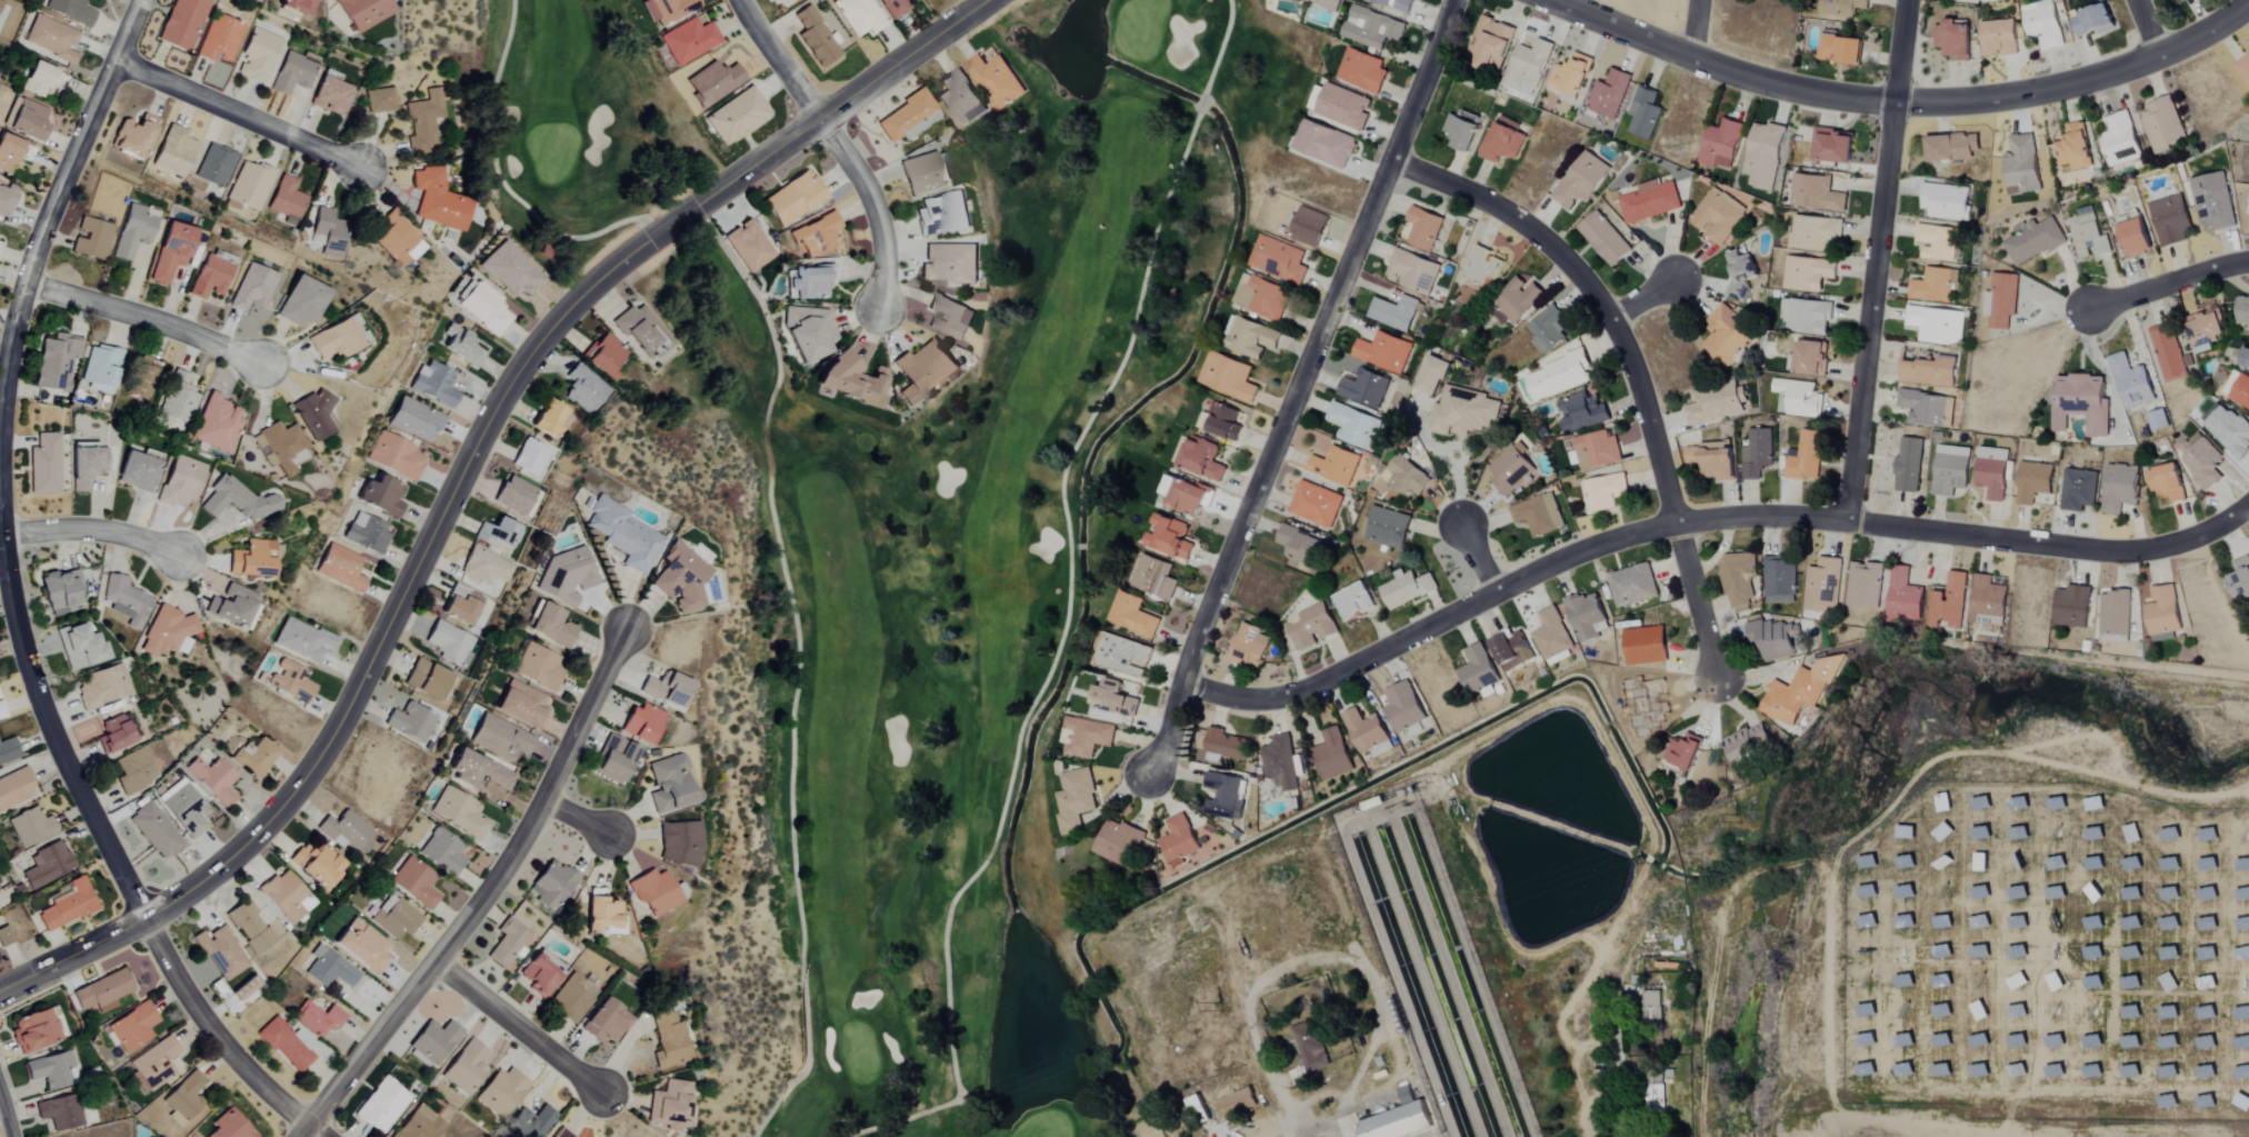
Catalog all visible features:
building: (1992, 0)
building: (0, 2)
building: (1326, 3)
building: (1396, 4)
building: (298, 7)
building: (1841, 7)
building: (892, 8)
building: (667, 10)
building: (70, 11)
building: (362, 12)
building: (858, 17)
building: (2092, 21)
building: (181, 23)
building: (2042, 24)
building: (1371, 28)
road: (1695, 29)
road: (2147, 30)
building: (816, 38)
building: (50, 39)
building: (1997, 39)
building: (218, 40)
building: (688, 41)
building: (1952, 41)
building: (1490, 42)
building: (1840, 50)
road: (1901, 51)
building: (258, 57)
building: (1531, 63)
building: (2243, 69)
building: (1361, 71)
building: (293, 72)
building: (1570, 76)
building: (41, 80)
building: (994, 81)
building: (712, 83)
building: (1608, 94)
building: (330, 97)
building: (379, 100)
building: (959, 100)
road: (1901, 101)
building: (1342, 108)
building: (1643, 113)
road: (241, 114)
building: (737, 117)
building: (908, 119)
building: (27, 121)
building: (423, 123)
building: (2162, 124)
building: (1460, 133)
building: (133, 137)
building: (2119, 140)
building: (1502, 141)
road: (841, 143)
building: (1323, 144)
building: (1720, 144)
building: (1832, 147)
building: (1952, 148)
building: (2073, 148)
building: (172, 152)
building: (7, 153)
building: (1763, 157)
building: (214, 166)
building: (2021, 166)
building: (921, 173)
building: (1581, 181)
building: (249, 186)
building: (1816, 195)
building: (793, 198)
building: (6, 199)
building: (437, 200)
building: (287, 201)
building: (1650, 202)
building: (1946, 202)
building: (2212, 202)
building: (2247, 206)
road: (51, 213)
building: (941, 213)
building: (1717, 217)
building: (2170, 221)
building: (1308, 226)
building: (1422, 228)
building: (131, 231)
building: (328, 232)
building: (1816, 233)
building: (814, 235)
building: (2088, 235)
building: (2135, 238)
building: (90, 239)
building: (394, 240)
building: (1603, 240)
building: (2033, 241)
building: (1936, 243)
building: (748, 247)
building: (170, 252)
building: (1278, 259)
building: (949, 263)
building: (1482, 266)
building: (510, 270)
building: (1412, 271)
building: (1740, 272)
building: (211, 275)
building: (1808, 275)
building: (808, 282)
road: (2170, 283)
building: (1932, 286)
building: (249, 288)
building: (1267, 298)
building: (1517, 299)
road: (1643, 299)
building: (298, 301)
building: (2001, 301)
building: (483, 308)
road: (1872, 310)
building: (2241, 310)
building: (1393, 312)
building: (949, 317)
building: (1806, 317)
road: (144, 319)
building: (1935, 326)
building: (2205, 328)
building: (1547, 329)
building: (642, 330)
building: (807, 331)
building: (1726, 336)
building: (1250, 338)
building: (332, 339)
building: (462, 346)
building: (1382, 351)
building: (2168, 352)
building: (604, 355)
building: (2245, 357)
building: (1810, 358)
building: (56, 361)
road: (1631, 367)
building: (99, 368)
building: (923, 370)
building: (1927, 370)
building: (1431, 376)
building: (1558, 376)
building: (1227, 377)
building: (851, 379)
building: (2131, 382)
building: (434, 383)
road: (1300, 386)
building: (1363, 388)
building: (583, 389)
building: (2240, 391)
building: (178, 397)
building: (1797, 398)
building: (1713, 403)
building: (2081, 403)
building: (1926, 408)
building: (1465, 410)
building: (1580, 411)
building: (312, 415)
building: (550, 418)
building: (416, 420)
building: (2157, 420)
building: (1221, 421)
building: (214, 423)
building: (1353, 426)
building: (2229, 429)
building: (278, 447)
building: (1593, 450)
building: (1757, 453)
building: (396, 456)
building: (531, 456)
building: (1806, 457)
building: (1200, 458)
building: (2200, 459)
building: (1718, 460)
building: (43, 465)
building: (1908, 465)
building: (1333, 466)
building: (84, 467)
building: (1509, 470)
building: (1949, 470)
building: (137, 471)
road: (461, 473)
building: (1990, 473)
building: (1402, 478)
building: (2033, 481)
building: (179, 482)
building: (2166, 483)
building: (2120, 488)
building: (2078, 489)
building: (1603, 491)
building: (516, 495)
building: (382, 496)
building: (1188, 497)
building: (233, 500)
building: (1315, 505)
park: (910, 512)
building: (1538, 515)
road: (2225, 516)
road: (1673, 521)
building: (1387, 528)
road: (92, 531)
building: (367, 532)
building: (498, 532)
building: (623, 533)
building: (1169, 537)
building: (1299, 546)
road: (1478, 558)
building: (251, 559)
building: (484, 567)
building: (340, 568)
building: (564, 576)
building: (1152, 577)
building: (681, 578)
building: (1779, 579)
building: (2239, 579)
building: (1738, 581)
building: (1631, 585)
building: (1822, 585)
building: (1865, 585)
building: (1406, 589)
building: (60, 591)
building: (1903, 599)
building: (124, 600)
building: (1353, 601)
building: (1948, 601)
building: (1987, 601)
building: (231, 606)
building: (459, 606)
building: (2071, 606)
building: (1131, 615)
building: (2162, 615)
building: (1586, 616)
building: (2113, 616)
building: (549, 626)
building: (1310, 627)
building: (167, 632)
building: (1551, 635)
building: (302, 640)
building: (1776, 640)
building: (449, 644)
building: (80, 646)
building: (1645, 646)
building: (1248, 647)
building: (1511, 650)
building: (1123, 656)
building: (536, 667)
building: (1477, 669)
building: (427, 679)
building: (290, 681)
building: (102, 687)
building: (666, 689)
building: (1800, 690)
building: (1112, 698)
building: (519, 704)
building: (1402, 707)
building: (1, 712)
building: (411, 722)
building: (641, 724)
building: (1365, 730)
building: (111, 732)
building: (1086, 737)
building: (498, 739)
building: (1748, 741)
building: (1227, 745)
building: (8, 750)
building: (1683, 751)
building: (1331, 755)
building: (253, 756)
building: (613, 760)
building: (1279, 762)
building: (133, 770)
building: (476, 771)
building: (211, 779)
building: (669, 785)
building: (14, 788)
building: (1223, 795)
building: (1074, 799)
building: (2060, 806)
building: (183, 810)
building: (456, 812)
power tower: (1738, 818)
road: (576, 819)
building: (30, 827)
building: (343, 830)
building: (154, 831)
building: (1942, 832)
building: (1980, 832)
building: (2018, 834)
building: (2055, 834)
building: (2093, 834)
building: (2169, 834)
building: (2207, 835)
road: (103, 838)
building: (1178, 841)
building: (1118, 842)
building: (679, 844)
building: (440, 851)
building: (1905, 861)
building: (1942, 862)
building: (2056, 862)
building: (2096, 862)
building: (2131, 864)
building: (2169, 864)
building: (2207, 864)
building: (2243, 864)
building: (47, 865)
building: (314, 865)
building: (2248, 874)
building: (413, 882)
building: (551, 885)
building: (653, 891)
building: (1908, 892)
building: (1941, 892)
building: (2093, 892)
building: (2131, 892)
road: (479, 894)
building: (2169, 894)
building: (2207, 894)
building: (2243, 894)
building: (286, 896)
building: (68, 906)
building: (601, 914)
building: (393, 918)
building: (1903, 921)
building: (1941, 921)
building: (1979, 921)
building: (2017, 922)
building: (2092, 922)
building: (2130, 922)
building: (2168, 922)
building: (2207, 924)
building: (249, 927)
building: (4, 937)
building: (2243, 940)
building: (508, 942)
building: (361, 946)
aquafarm: (1422, 950)
building: (1941, 951)
building: (220, 953)
building: (2092, 953)
building: (2130, 953)
building: (2168, 953)
building: (2206, 954)
solar farm: (2048, 956)
road: (1312, 957)
building: (328, 968)
building: (540, 974)
aquafarm: (1462, 975)
aquafarm: (1437, 979)
building: (1941, 980)
building: (1903, 981)
building: (2130, 983)
building: (2168, 983)
building: (2207, 983)
aquafarm: (1410, 986)
building: (243, 989)
building: (102, 991)
power tower: (1218, 1007)
building: (1651, 1008)
building: (1978, 1010)
building: (2130, 1011)
building: (2168, 1013)
building: (2206, 1013)
building: (317, 1018)
building: (606, 1023)
building: (132, 1027)
road: (520, 1027)
road: (1615, 1027)
building: (32, 1031)
building: (2243, 1031)
building: (1978, 1040)
building: (433, 1041)
building: (668, 1041)
building: (2016, 1041)
building: (2055, 1041)
building: (2130, 1041)
building: (2168, 1041)
building: (2209, 1043)
building: (287, 1045)
building: (1308, 1046)
building: (154, 1064)
building: (464, 1067)
building: (50, 1070)
building: (2129, 1071)
building: (2242, 1073)
building: (2167, 1074)
building: (2208, 1074)
building: (500, 1093)
building: (1653, 1096)
building: (183, 1098)
building: (2205, 1101)
building: (2242, 1101)
building: (381, 1105)
building: (1236, 1105)
building: (670, 1106)
building: (59, 1113)
building: (531, 1121)
building: (1397, 1123)
building: (419, 1124)
building: (229, 1126)
road: (1320, 1126)

